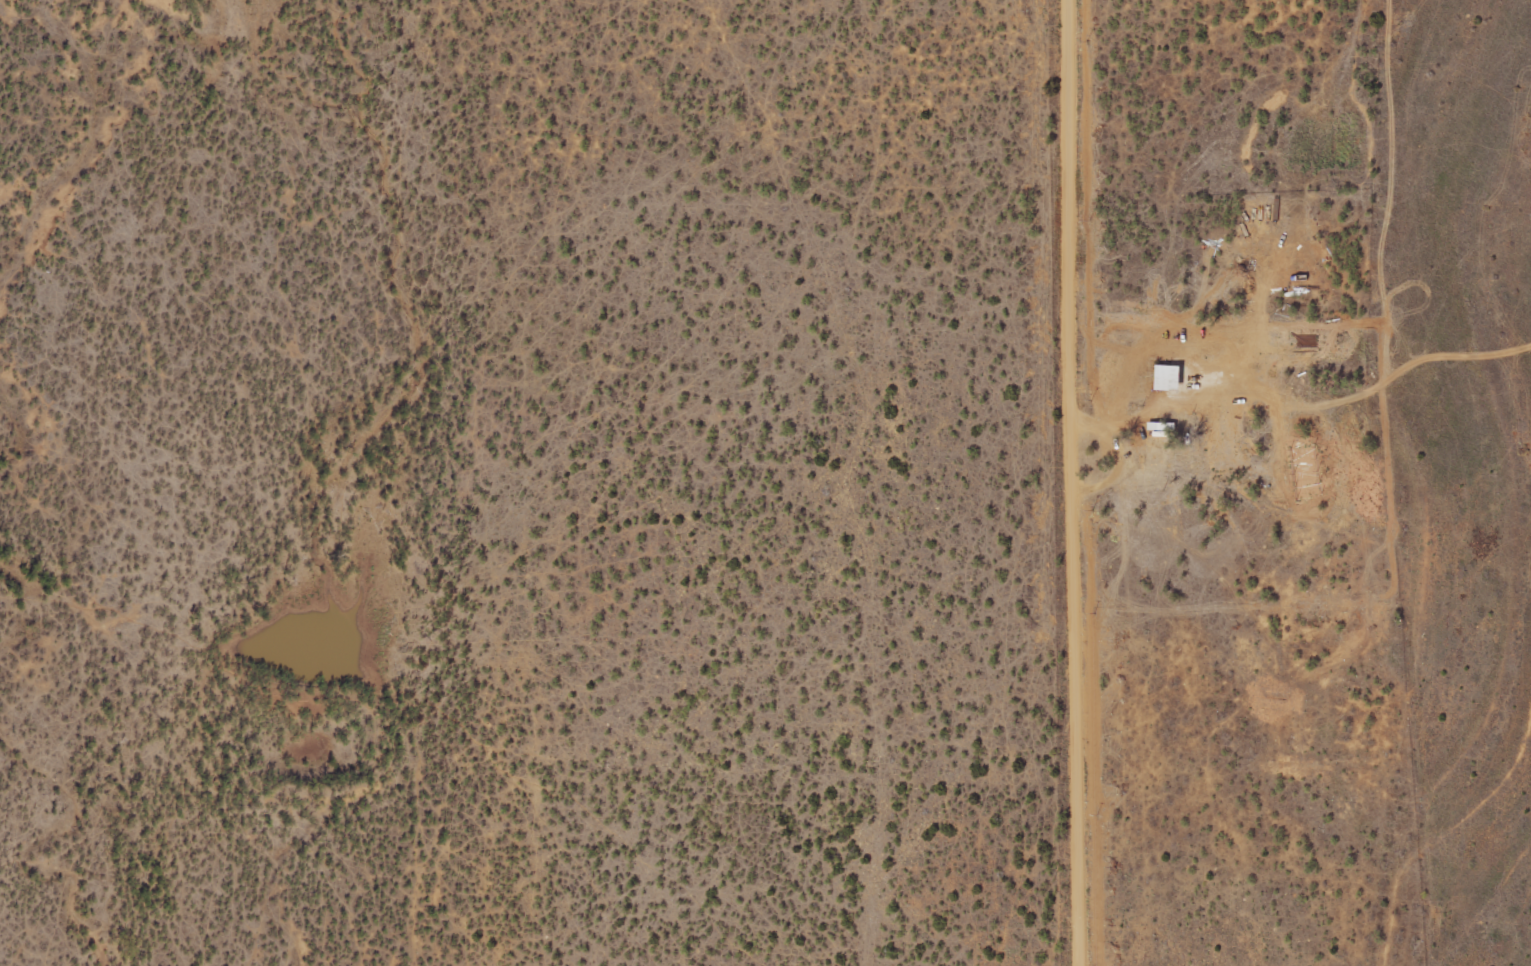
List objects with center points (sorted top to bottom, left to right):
road: (1070, 483)
road: (1306, 829)

